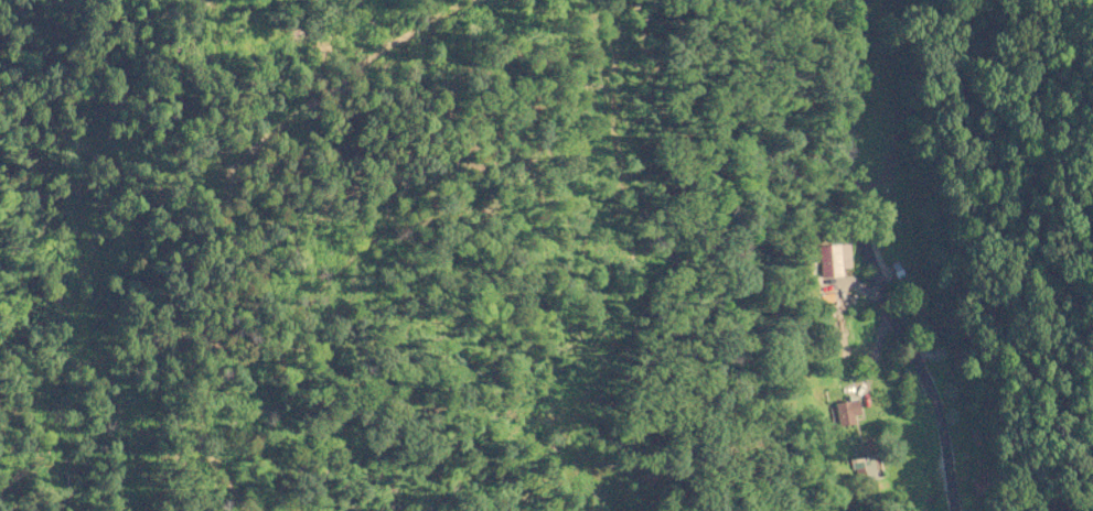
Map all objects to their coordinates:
building: (832, 259)
road: (868, 261)
building: (845, 411)
building: (866, 468)

